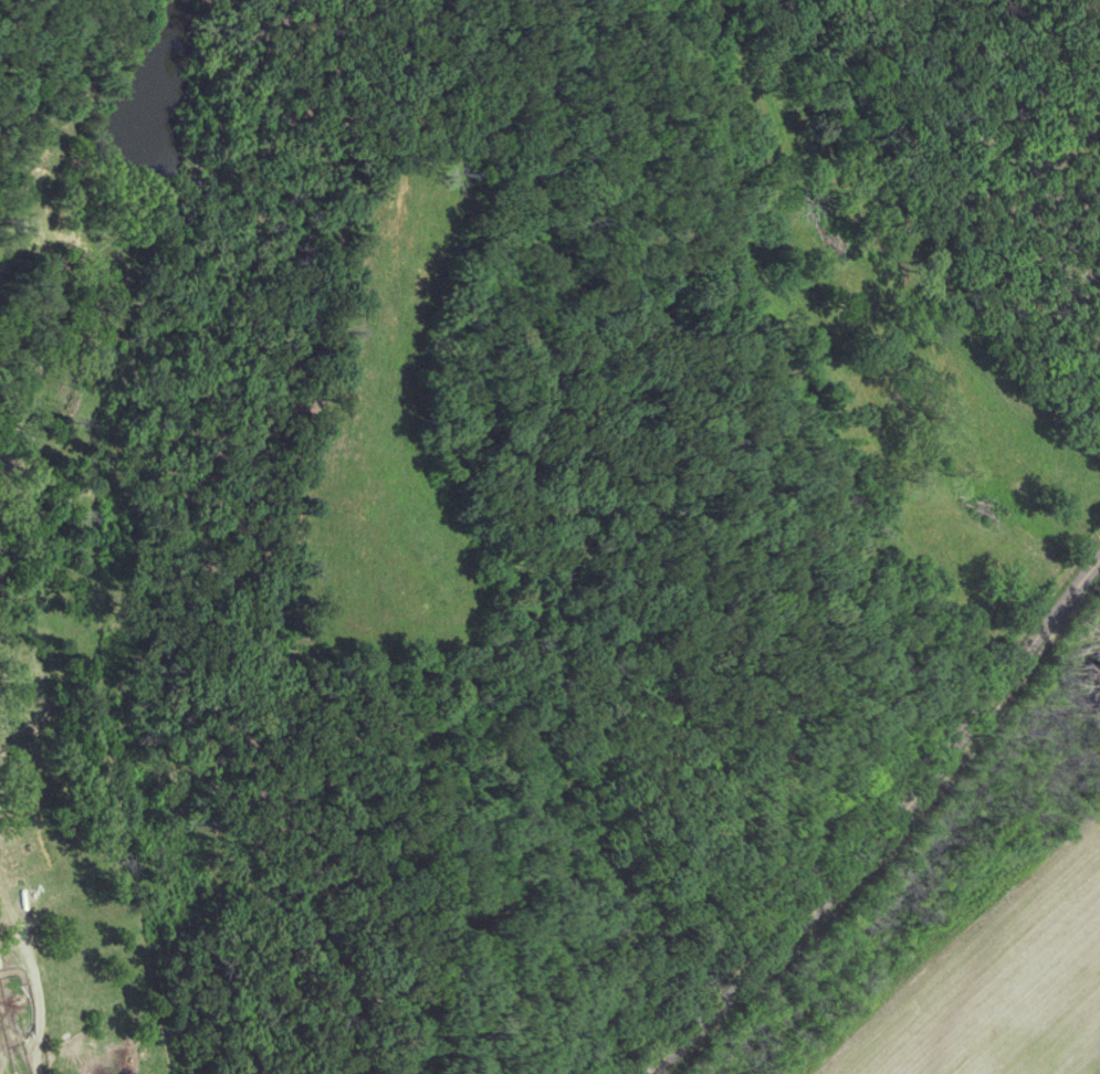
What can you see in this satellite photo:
road: (882, 829)
building: (23, 859)
crop: (998, 988)
road: (40, 1013)

